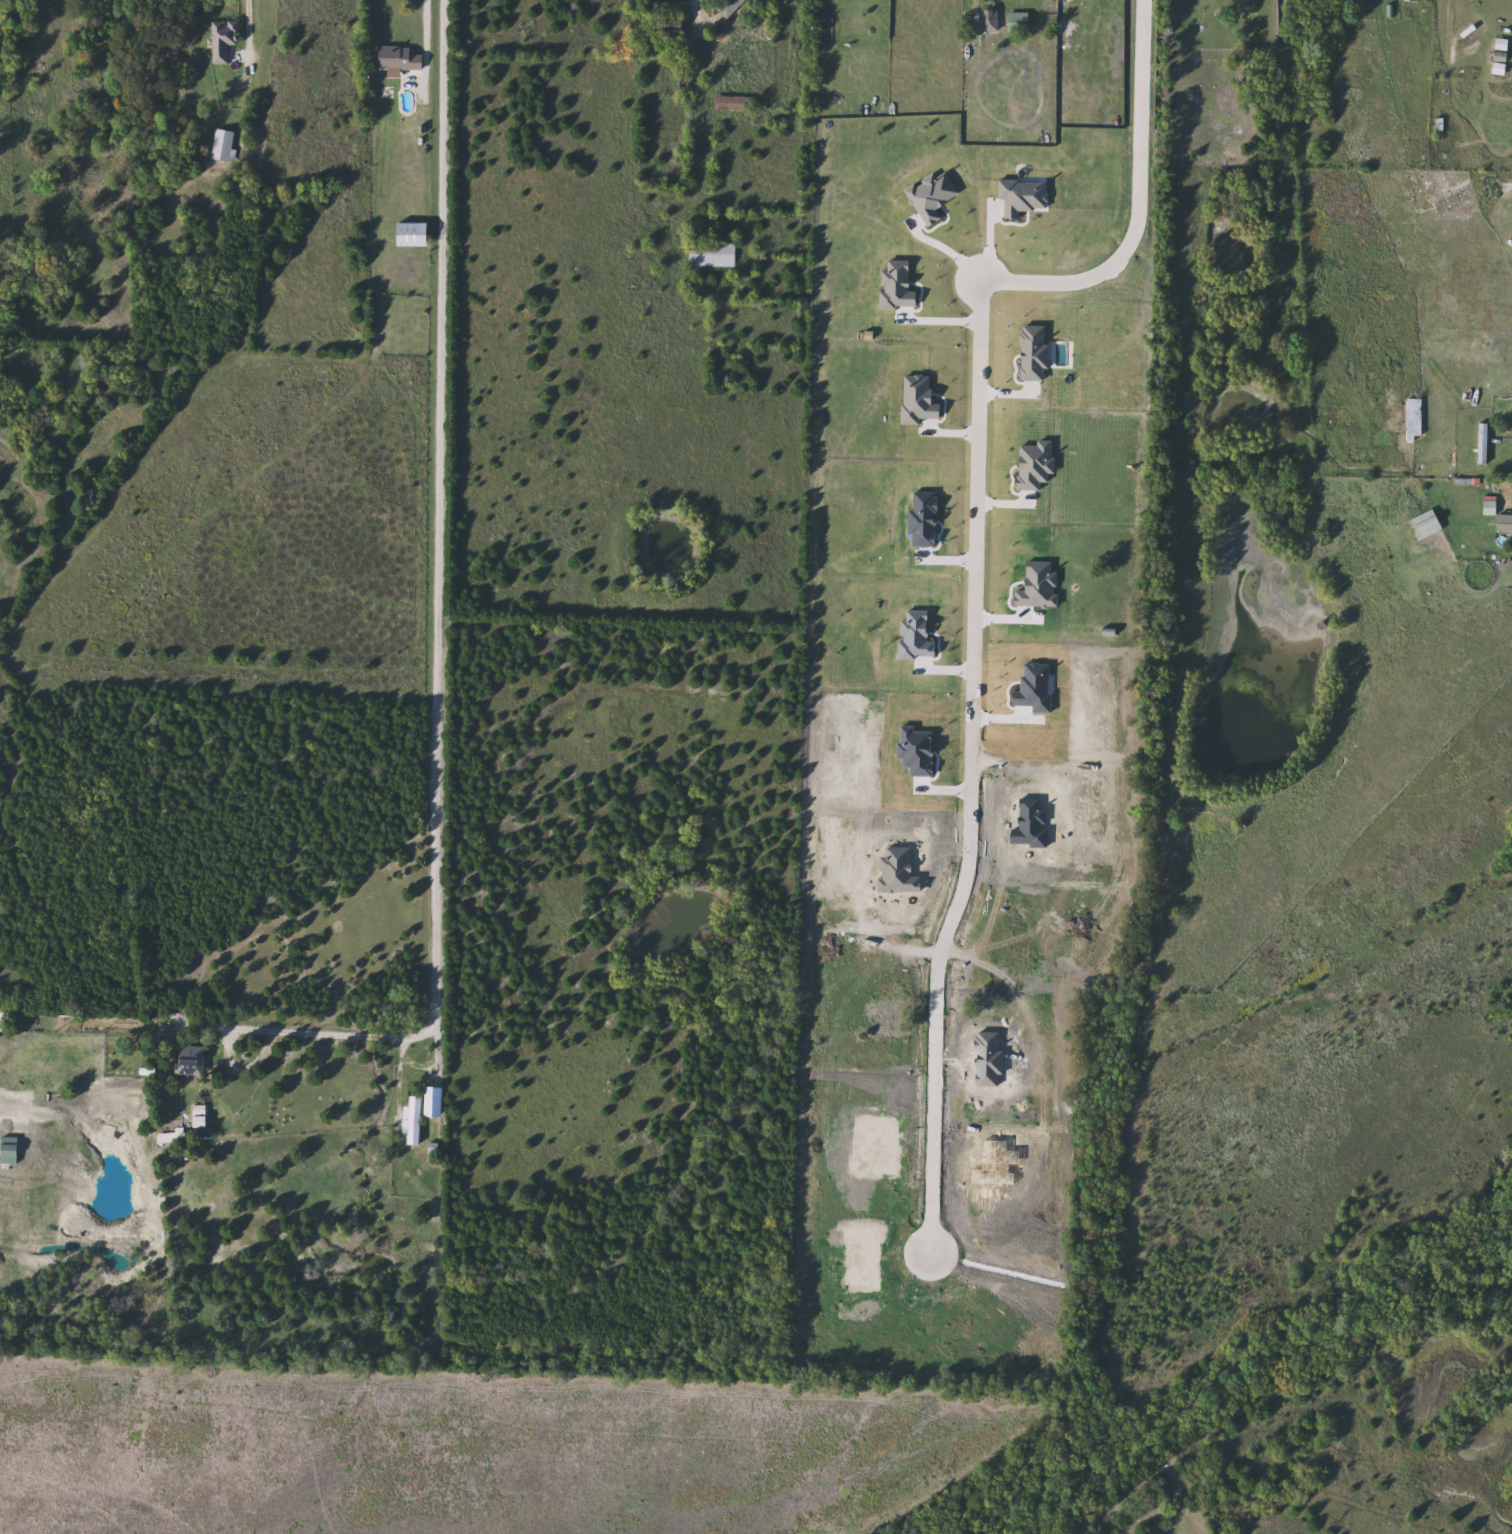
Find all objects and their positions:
road: (246, 1)
road: (694, 1)
building: (729, 6)
road: (425, 20)
building: (990, 21)
building: (1021, 23)
building: (225, 40)
building: (401, 59)
building: (736, 103)
building: (223, 145)
road: (1504, 183)
building: (1458, 200)
building: (415, 234)
road: (953, 249)
building: (713, 255)
building: (1416, 418)
building: (1429, 524)
building: (1505, 525)
building: (1042, 530)
road: (970, 570)
road: (440, 596)
building: (191, 1060)
road: (437, 1062)
road: (400, 1091)

